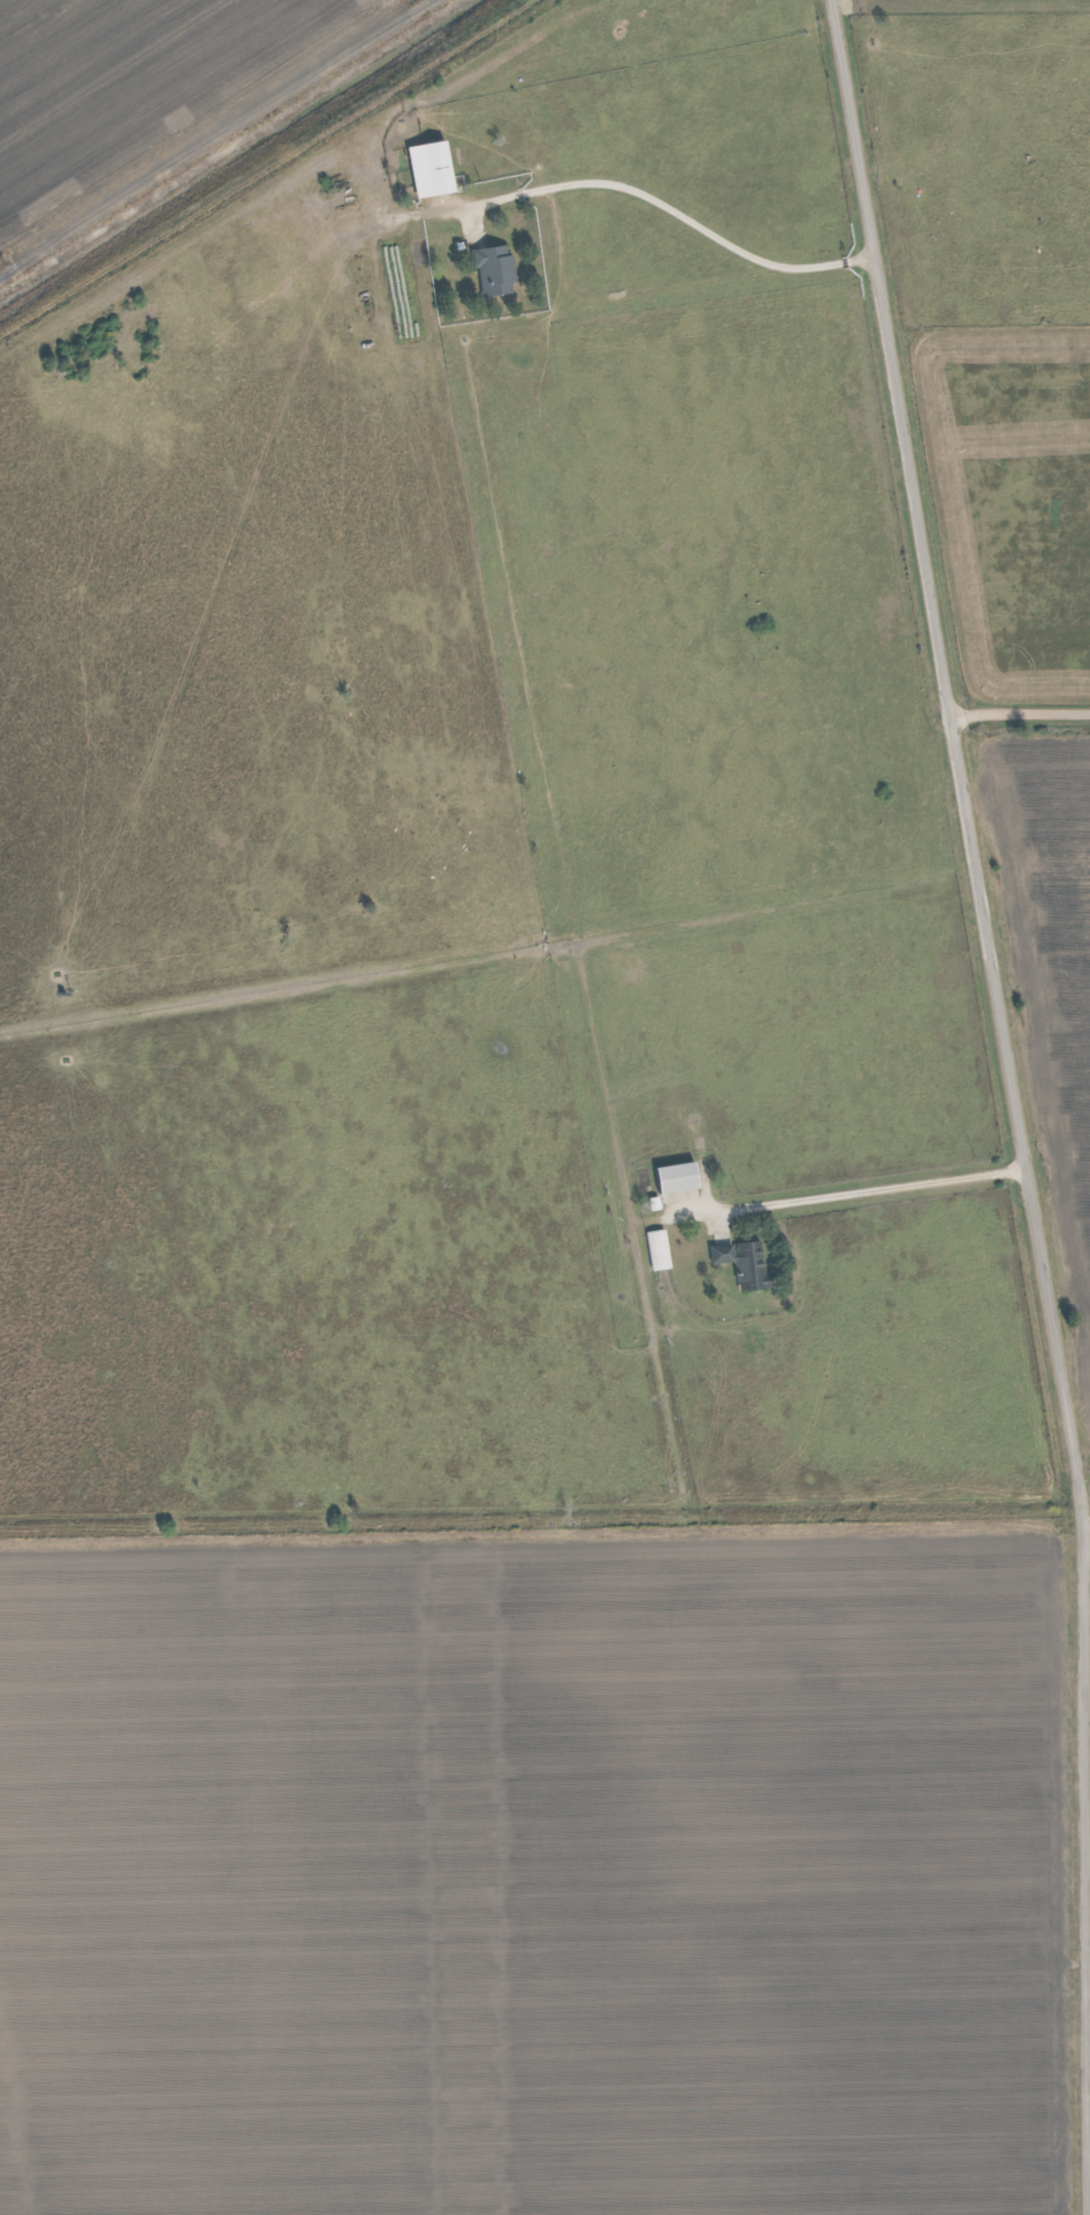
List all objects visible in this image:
building: (433, 170)
road: (665, 210)
power tower: (6, 261)
building: (497, 272)
road: (1019, 713)
road: (1003, 1017)
building: (679, 1178)
road: (864, 1187)
building: (660, 1251)
building: (746, 1265)
road: (1087, 1549)

